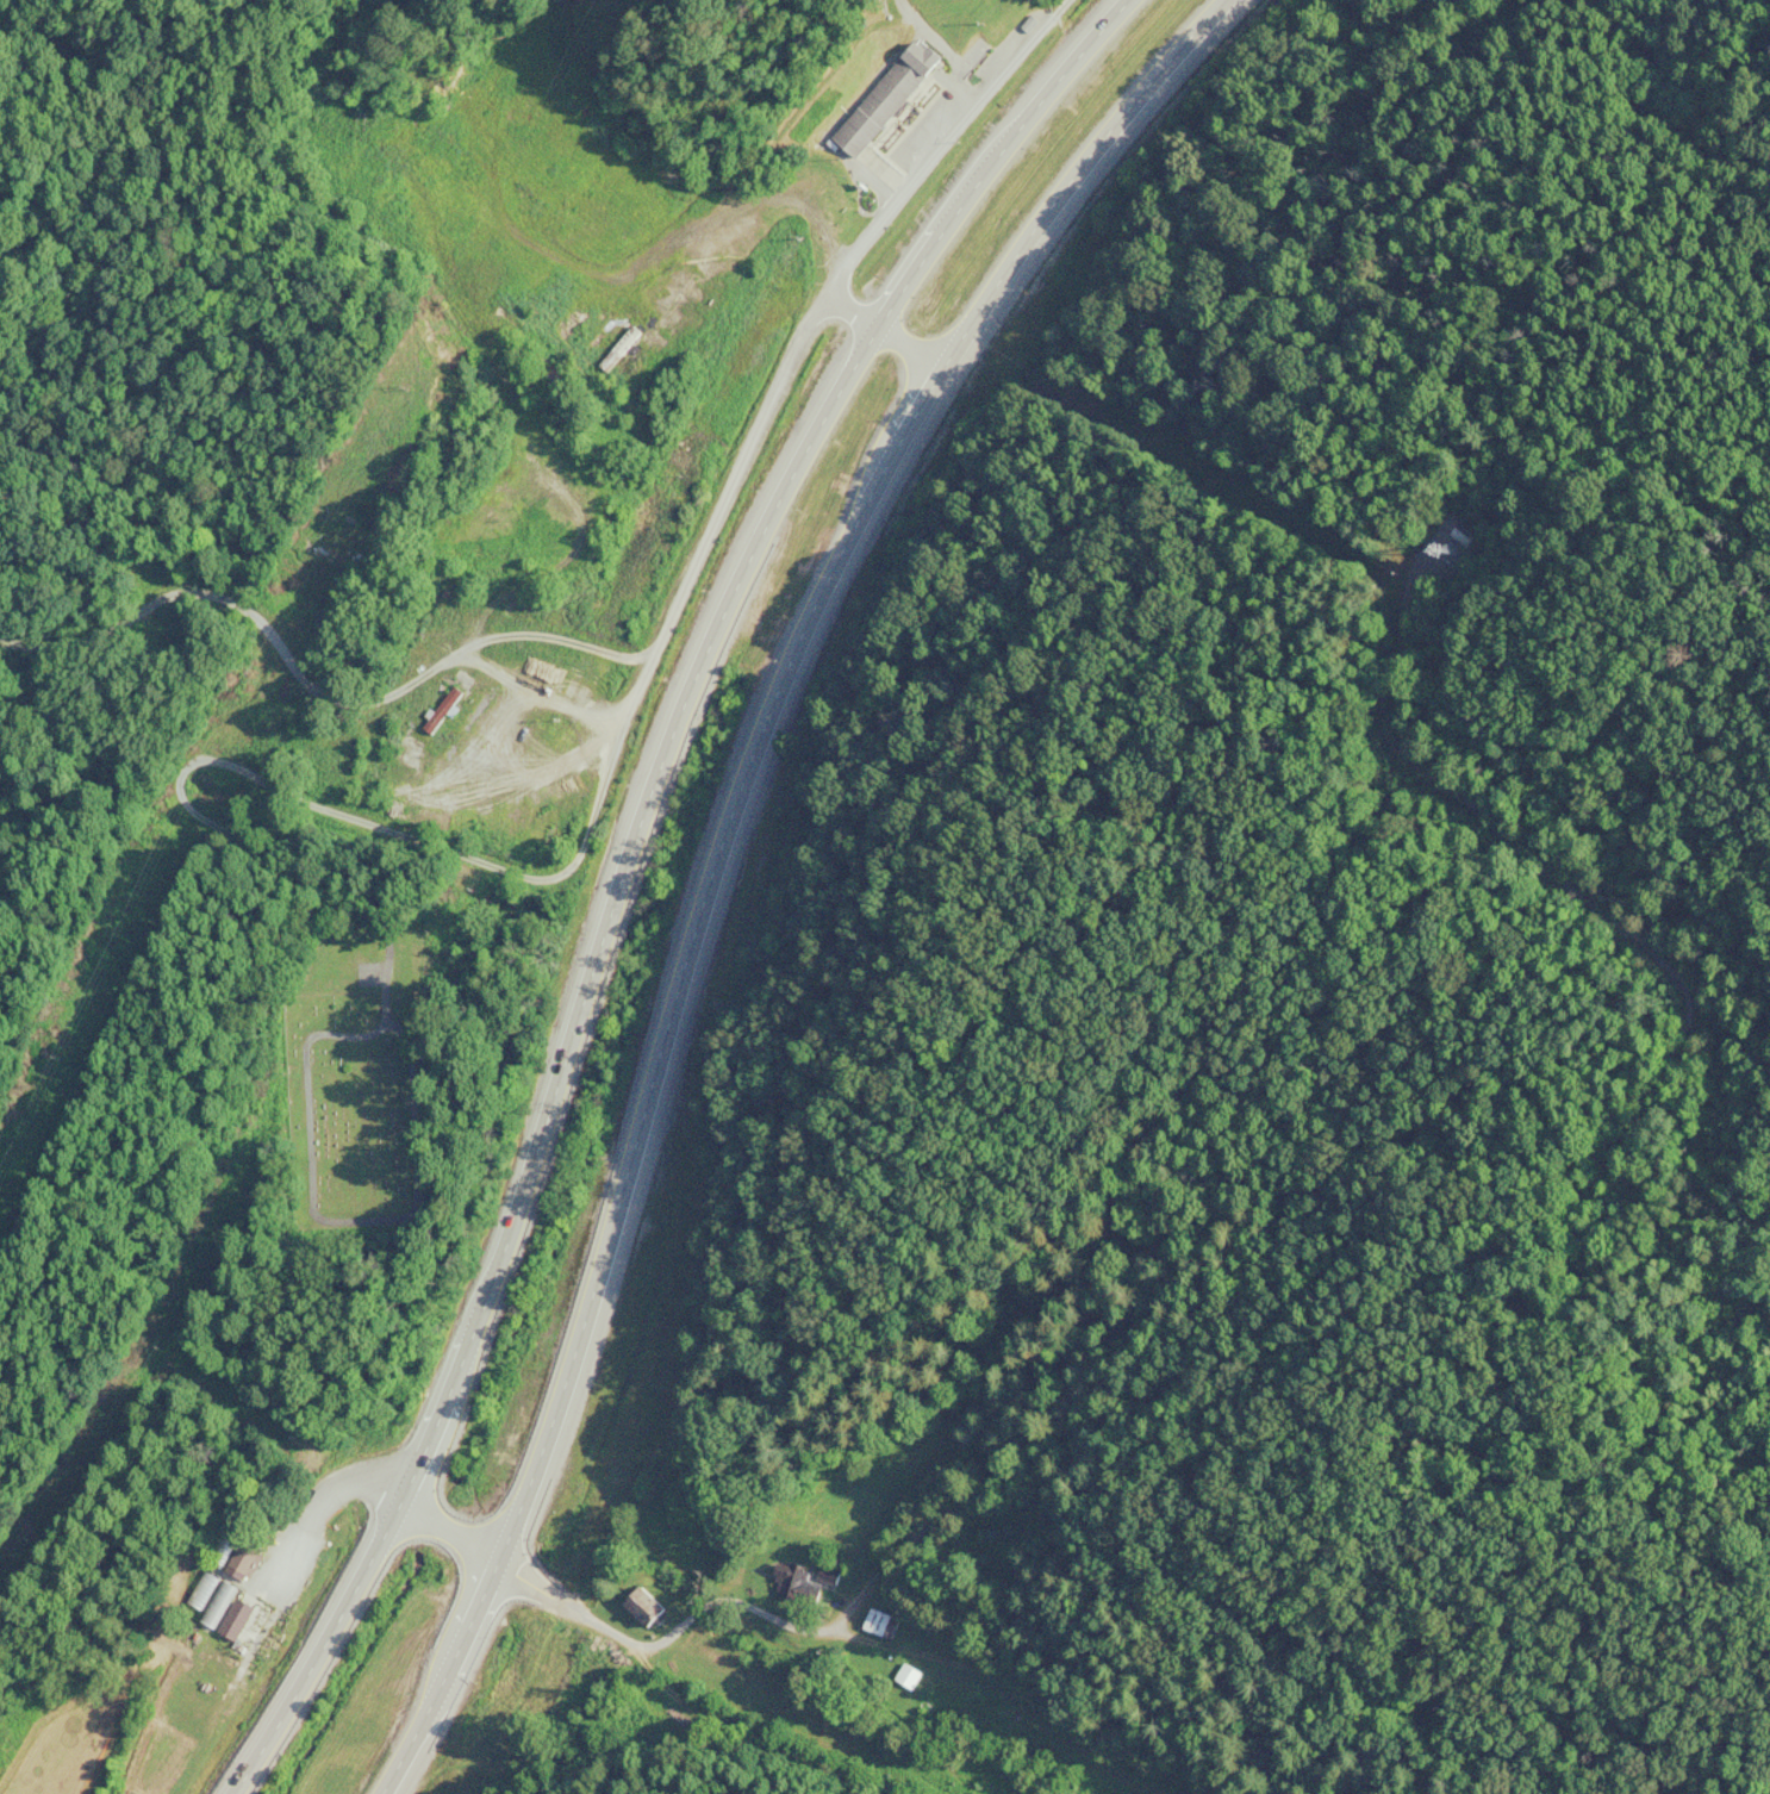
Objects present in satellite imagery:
road: (722, 468)
road: (287, 690)
road: (711, 854)
road: (618, 867)
road: (409, 1506)
building: (629, 1603)
road: (553, 1611)
road: (928, 1617)
building: (867, 1621)
building: (897, 1675)

